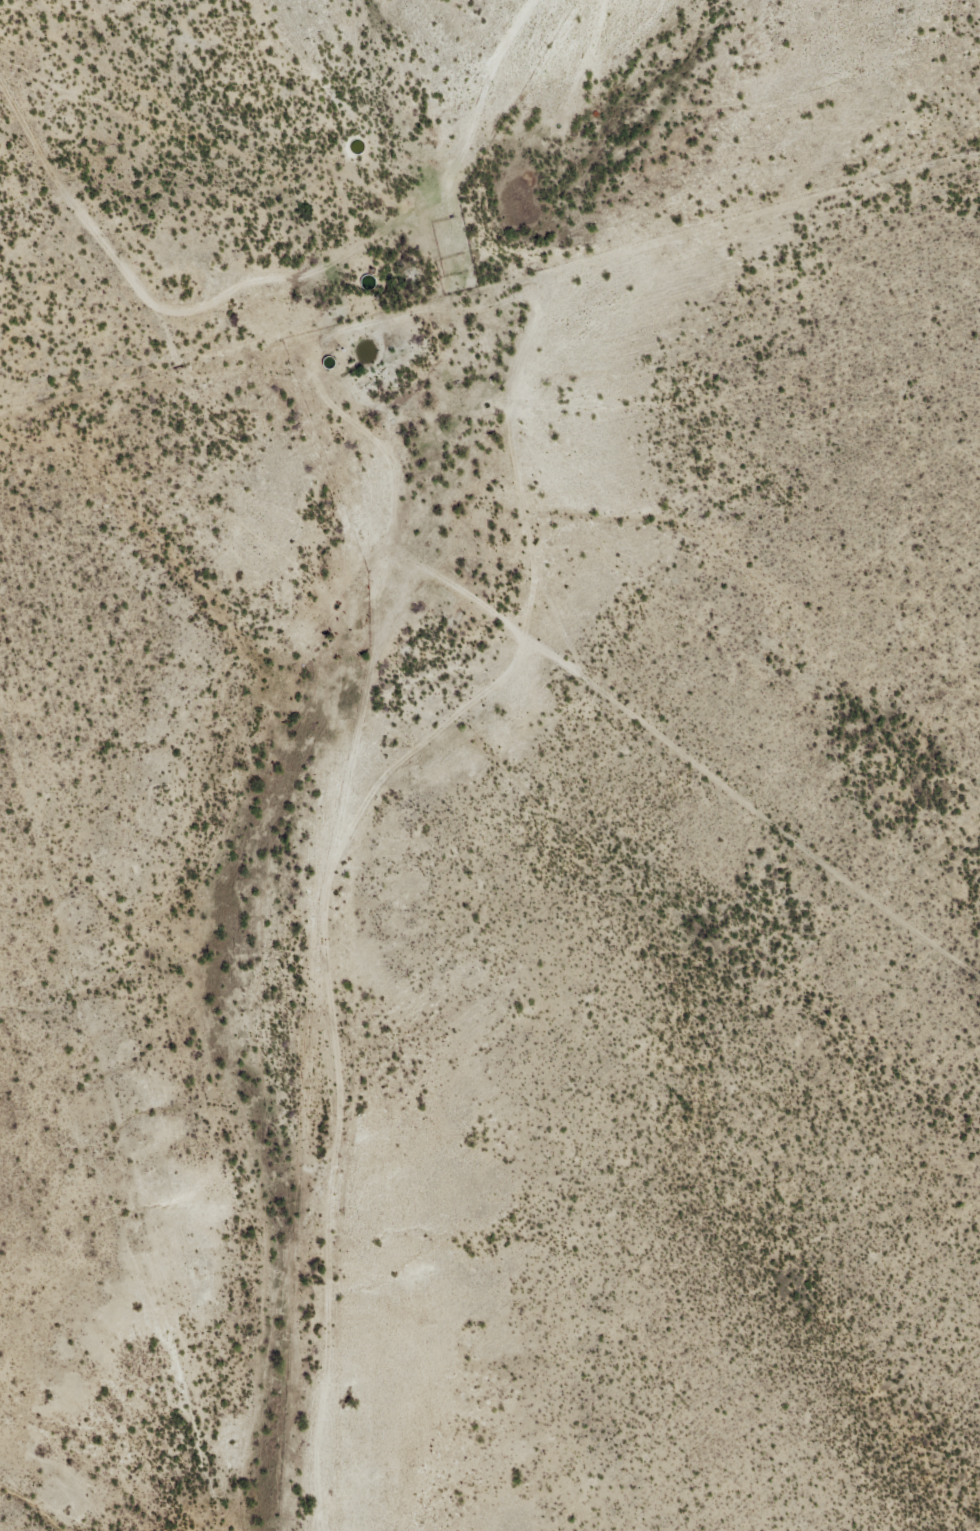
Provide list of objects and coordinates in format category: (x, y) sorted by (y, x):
road: (364, 129)
road: (178, 344)
road: (93, 391)
road: (610, 690)

